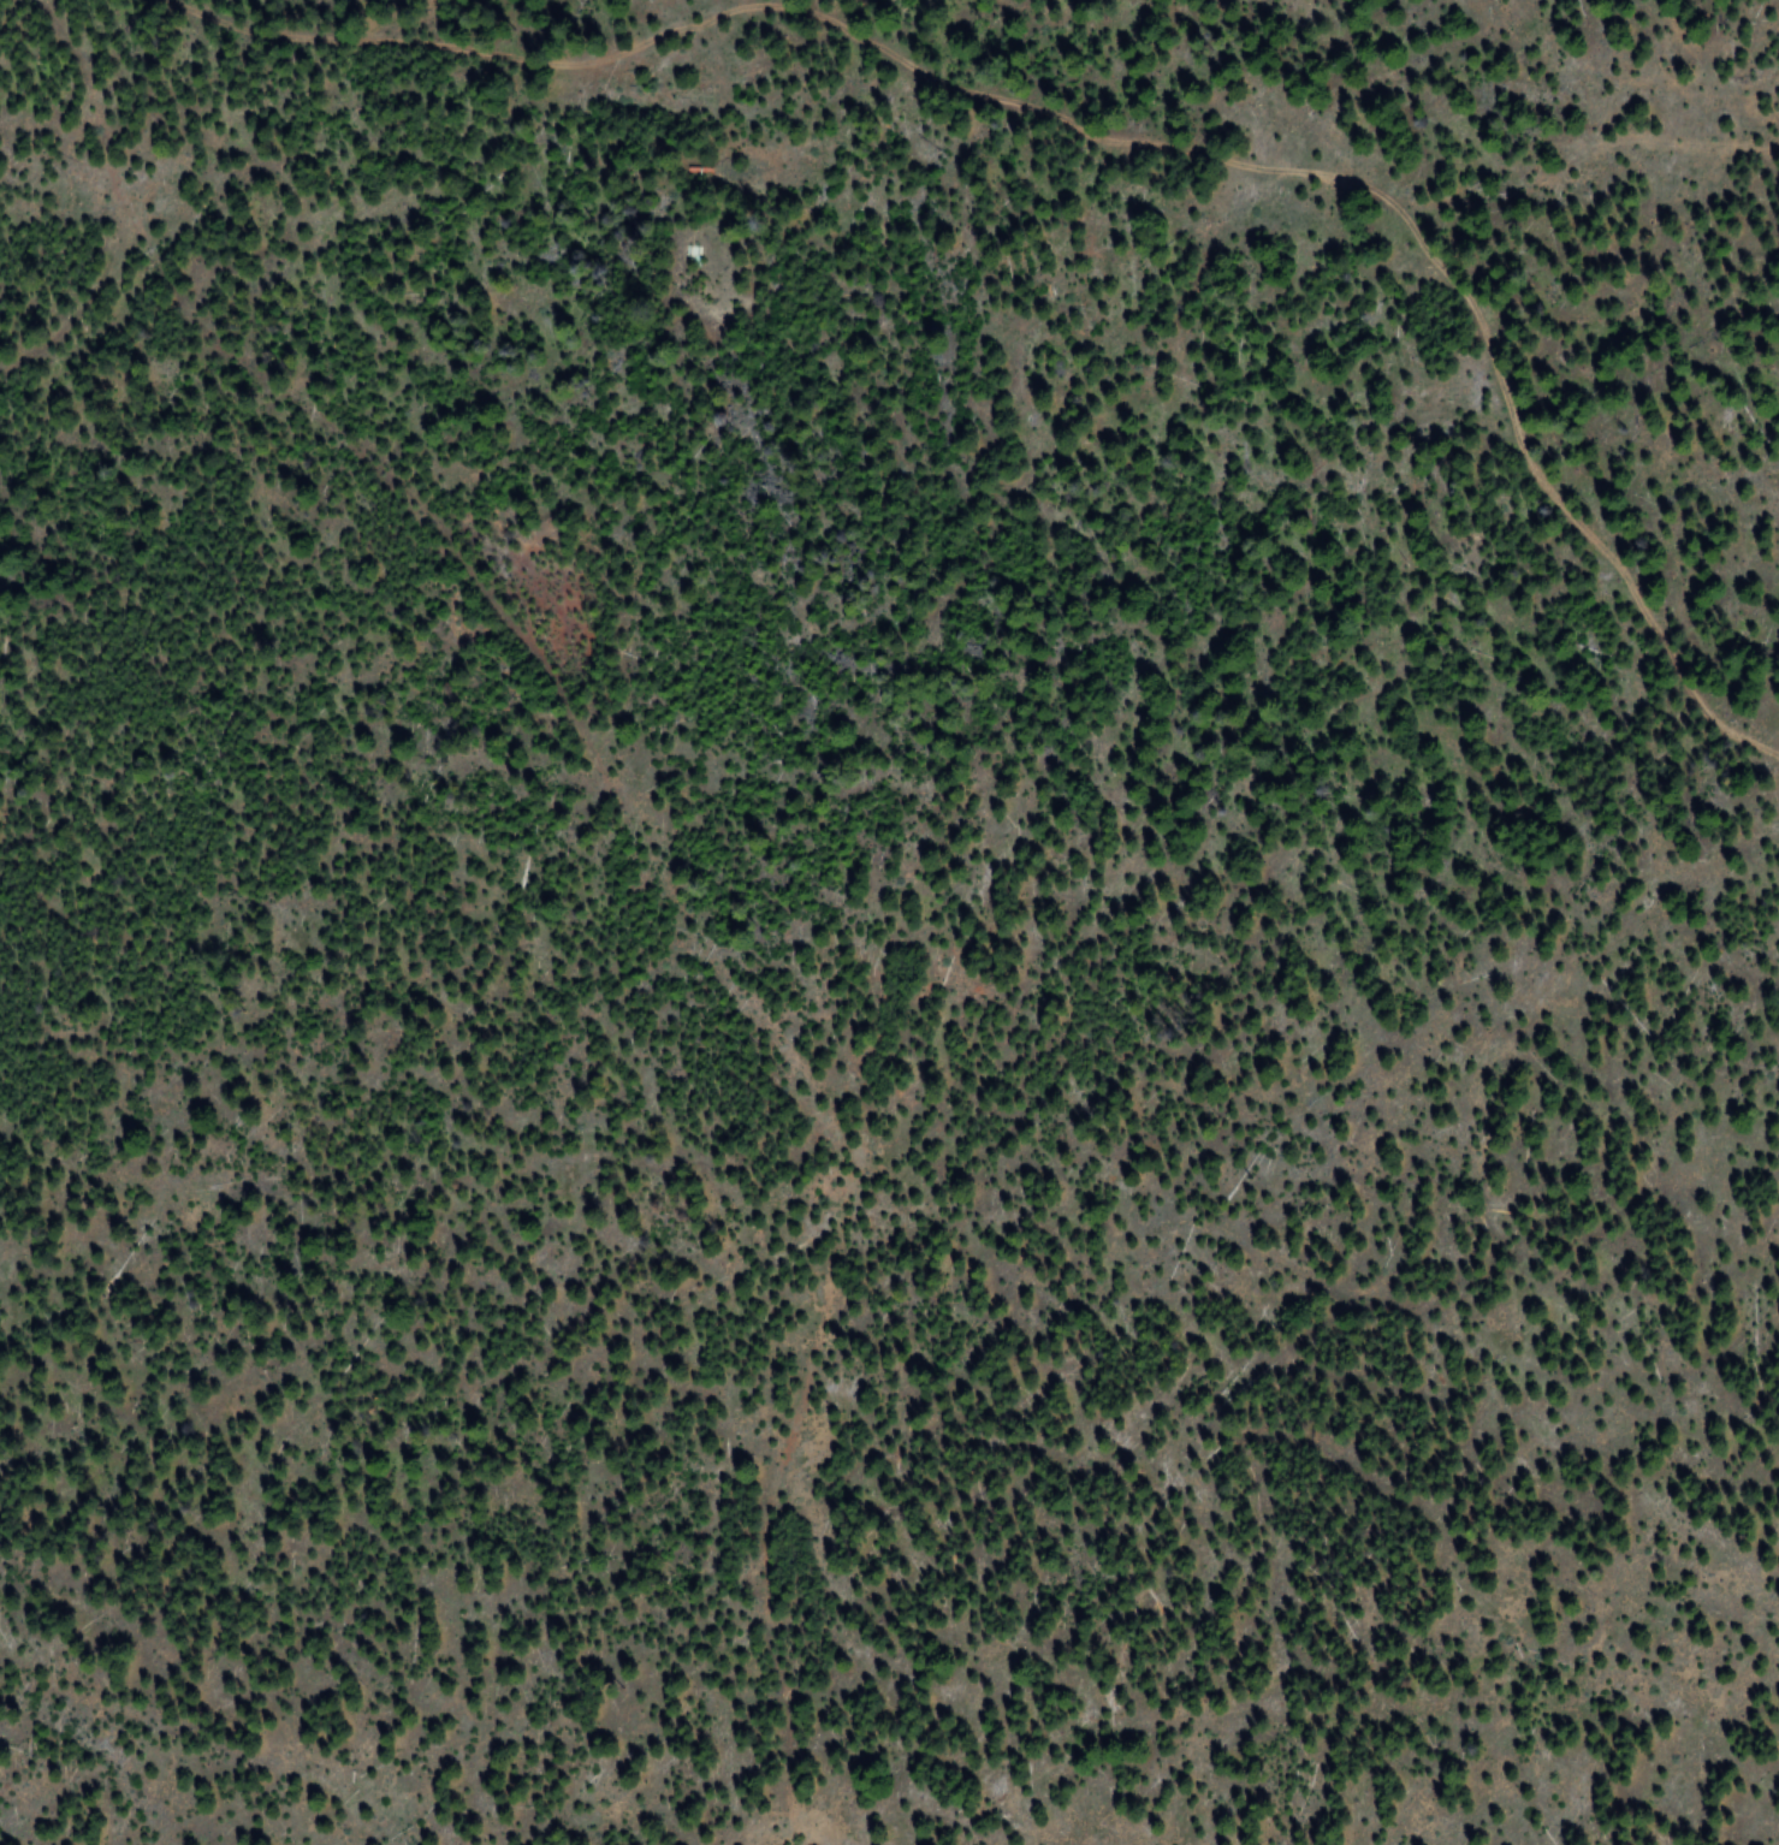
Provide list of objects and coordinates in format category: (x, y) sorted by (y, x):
road: (99, 115)
road: (1109, 140)
road: (1583, 152)

